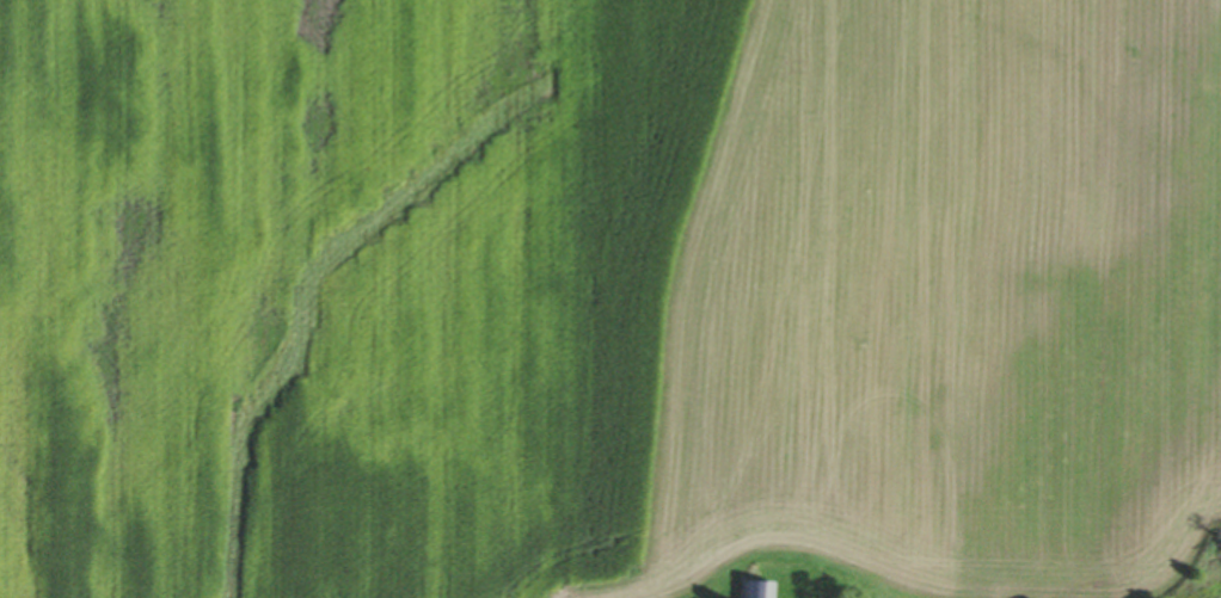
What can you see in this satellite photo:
building: (749, 591)

